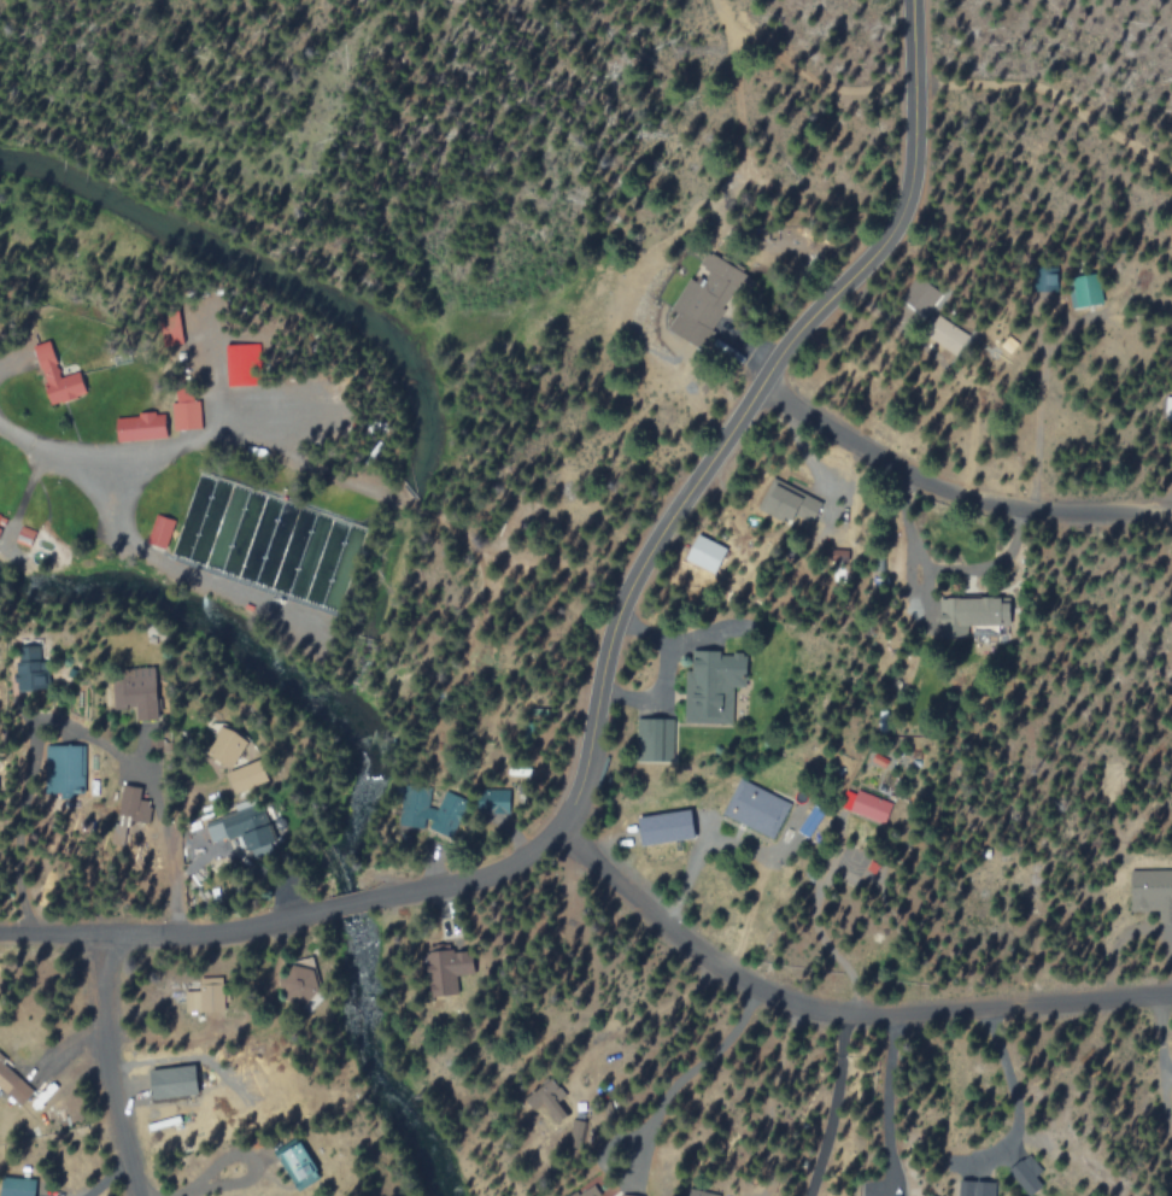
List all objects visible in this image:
building: (1086, 291)
river: (377, 328)
building: (947, 334)
building: (244, 364)
building: (58, 376)
building: (1168, 408)
building: (186, 411)
building: (141, 427)
road: (954, 492)
road: (687, 494)
building: (791, 505)
building: (1, 517)
building: (160, 530)
building: (25, 535)
building: (707, 553)
road: (950, 570)
river: (380, 586)
building: (973, 614)
road: (664, 674)
building: (714, 685)
building: (142, 691)
building: (658, 740)
building: (227, 746)
building: (68, 770)
building: (247, 776)
building: (866, 805)
building: (756, 808)
building: (447, 814)
building: (667, 827)
building: (238, 832)
building: (1154, 892)
road: (351, 905)
road: (168, 937)
building: (450, 969)
building: (206, 997)
road: (834, 1015)
road: (111, 1068)
building: (12, 1083)
building: (558, 1112)
building: (297, 1162)
building: (1027, 1174)
building: (18, 1186)
building: (977, 1188)
building: (586, 1192)
building: (702, 1192)
building: (629, 1195)

